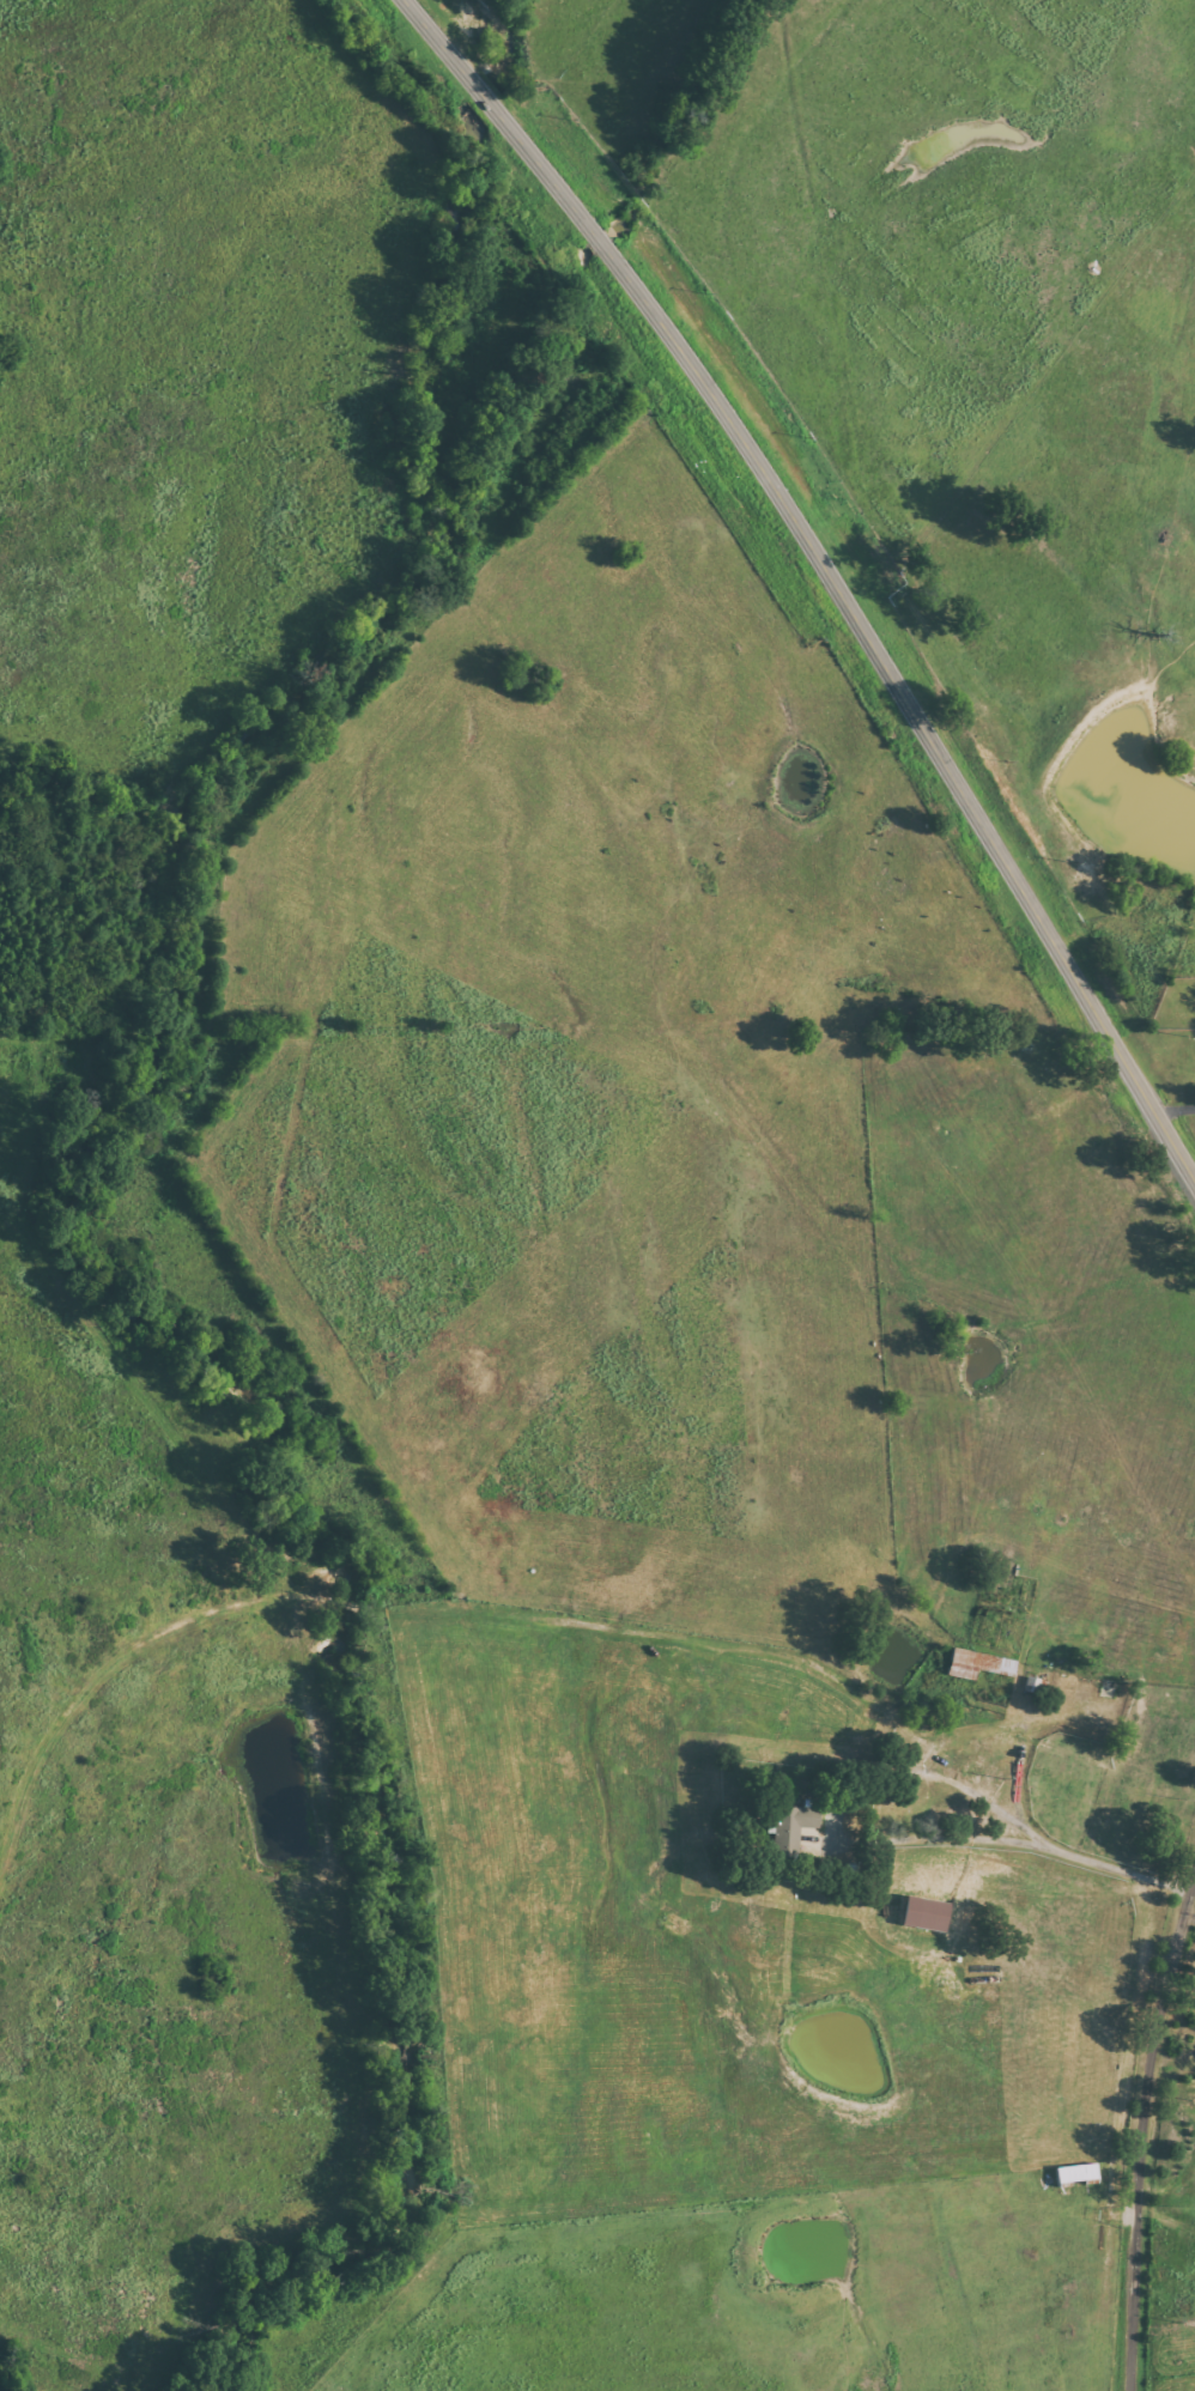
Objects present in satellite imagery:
road: (826, 570)
building: (977, 1664)
road: (972, 1742)
building: (791, 1827)
road: (966, 1835)
road: (1108, 1863)
road: (1144, 2143)

